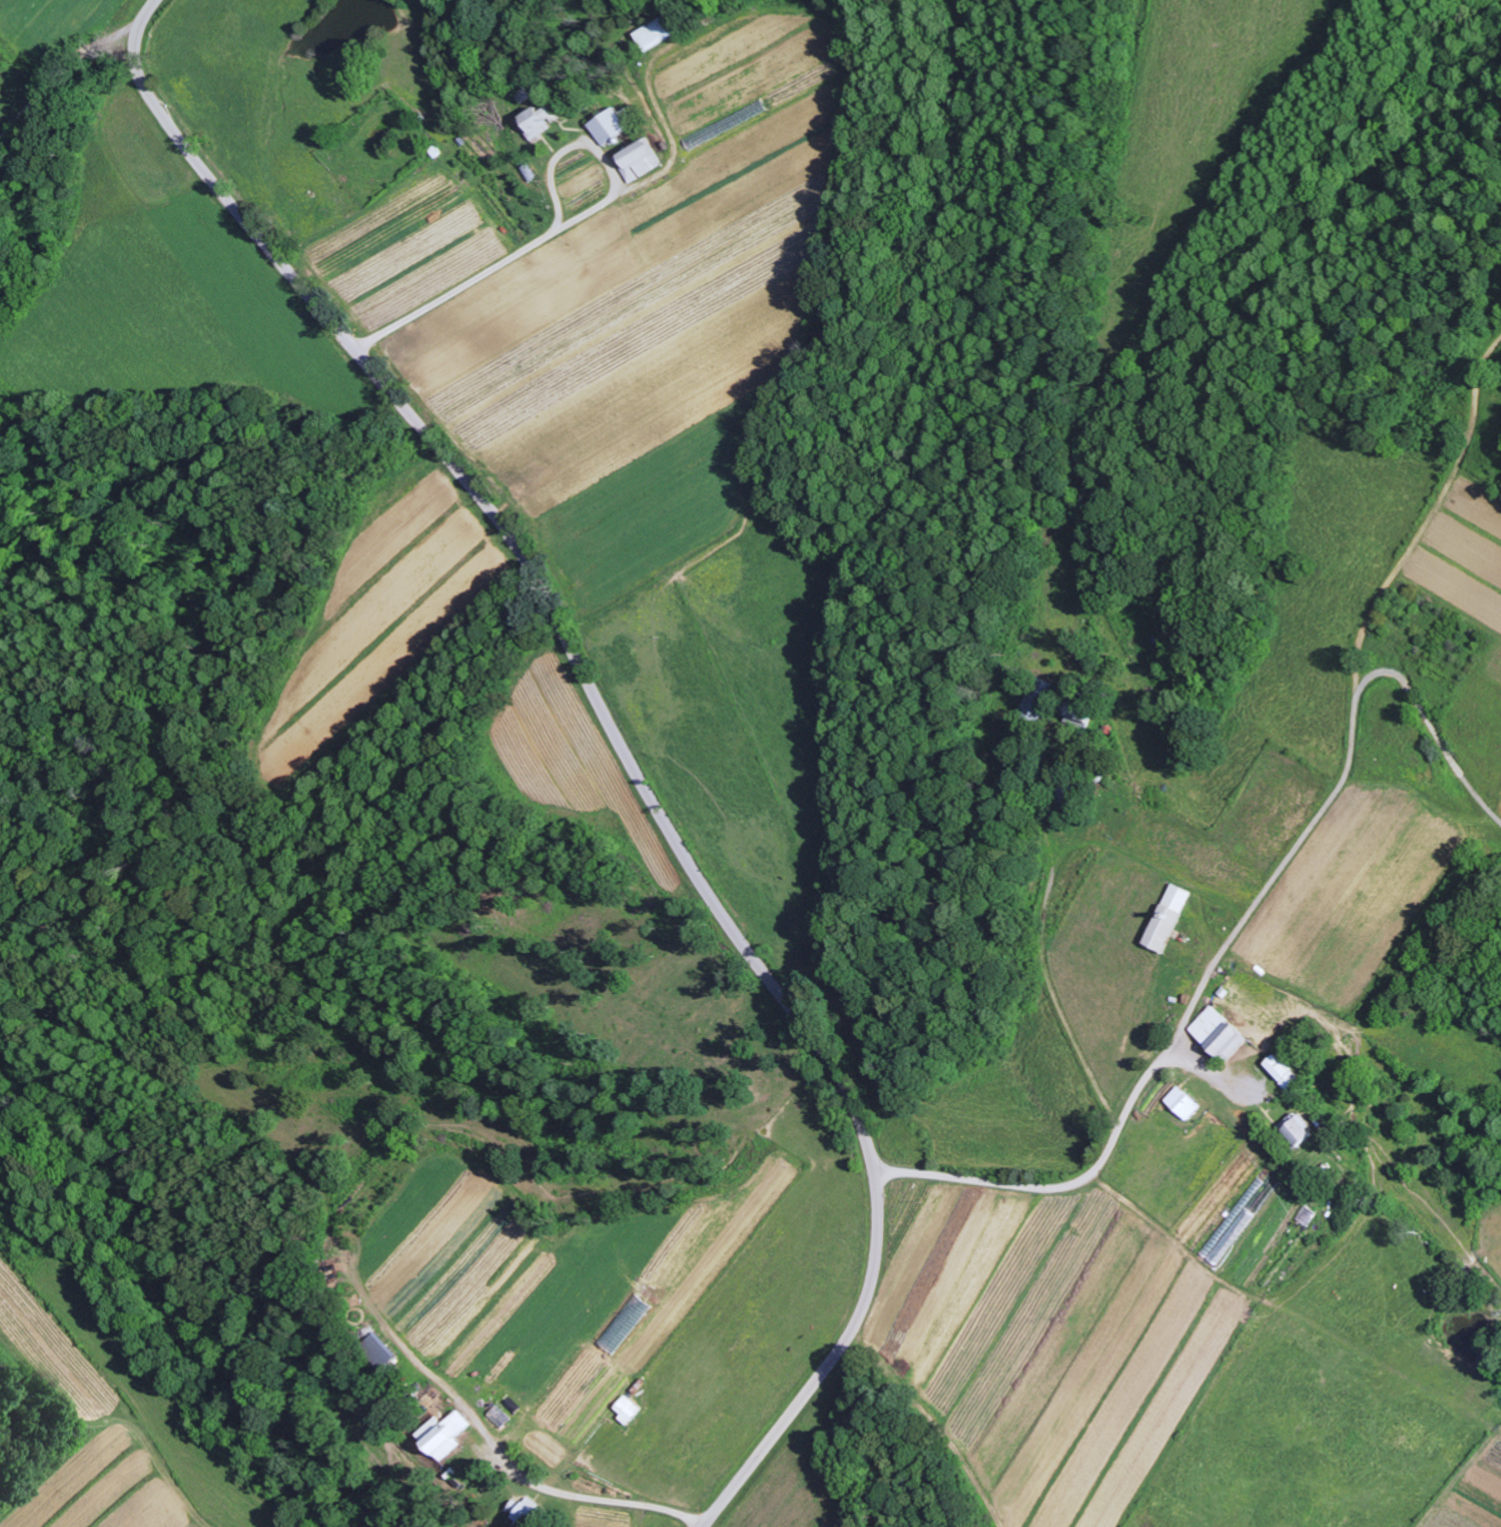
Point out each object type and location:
road: (133, 8)
building: (663, 31)
road: (63, 112)
building: (545, 120)
building: (641, 160)
building: (1037, 704)
road: (621, 744)
building: (1172, 917)
road: (1237, 933)
road: (1054, 1001)
building: (1221, 1032)
building: (1149, 1045)
building: (1285, 1074)
building: (1301, 1130)
building: (379, 1351)
building: (445, 1434)
road: (576, 1501)

